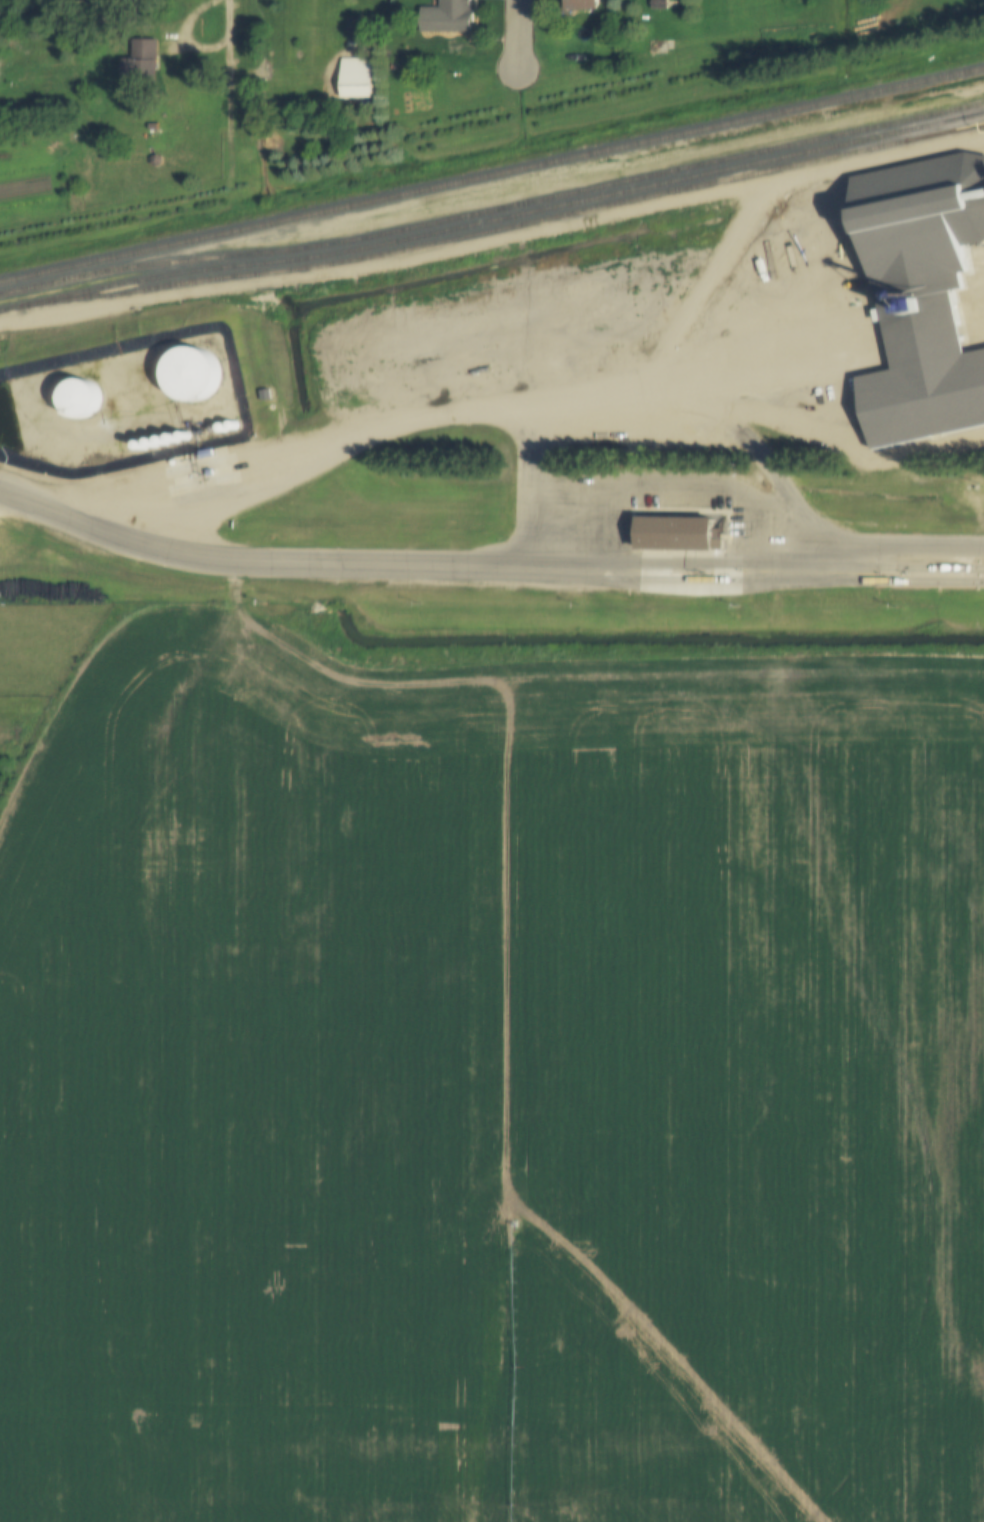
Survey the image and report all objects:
building: (659, 5)
building: (581, 6)
building: (447, 18)
building: (0, 19)
road: (244, 21)
building: (355, 29)
road: (520, 34)
building: (327, 35)
building: (657, 47)
building: (142, 68)
building: (356, 79)
building: (154, 159)
railway: (492, 172)
road: (187, 202)
building: (922, 297)
building: (191, 376)
building: (79, 400)
building: (183, 436)
building: (173, 440)
building: (162, 442)
building: (152, 444)
building: (141, 446)
building: (206, 454)
building: (209, 473)
road: (753, 549)
road: (257, 557)
building: (691, 566)
road: (701, 581)
road: (931, 582)
road: (386, 722)

